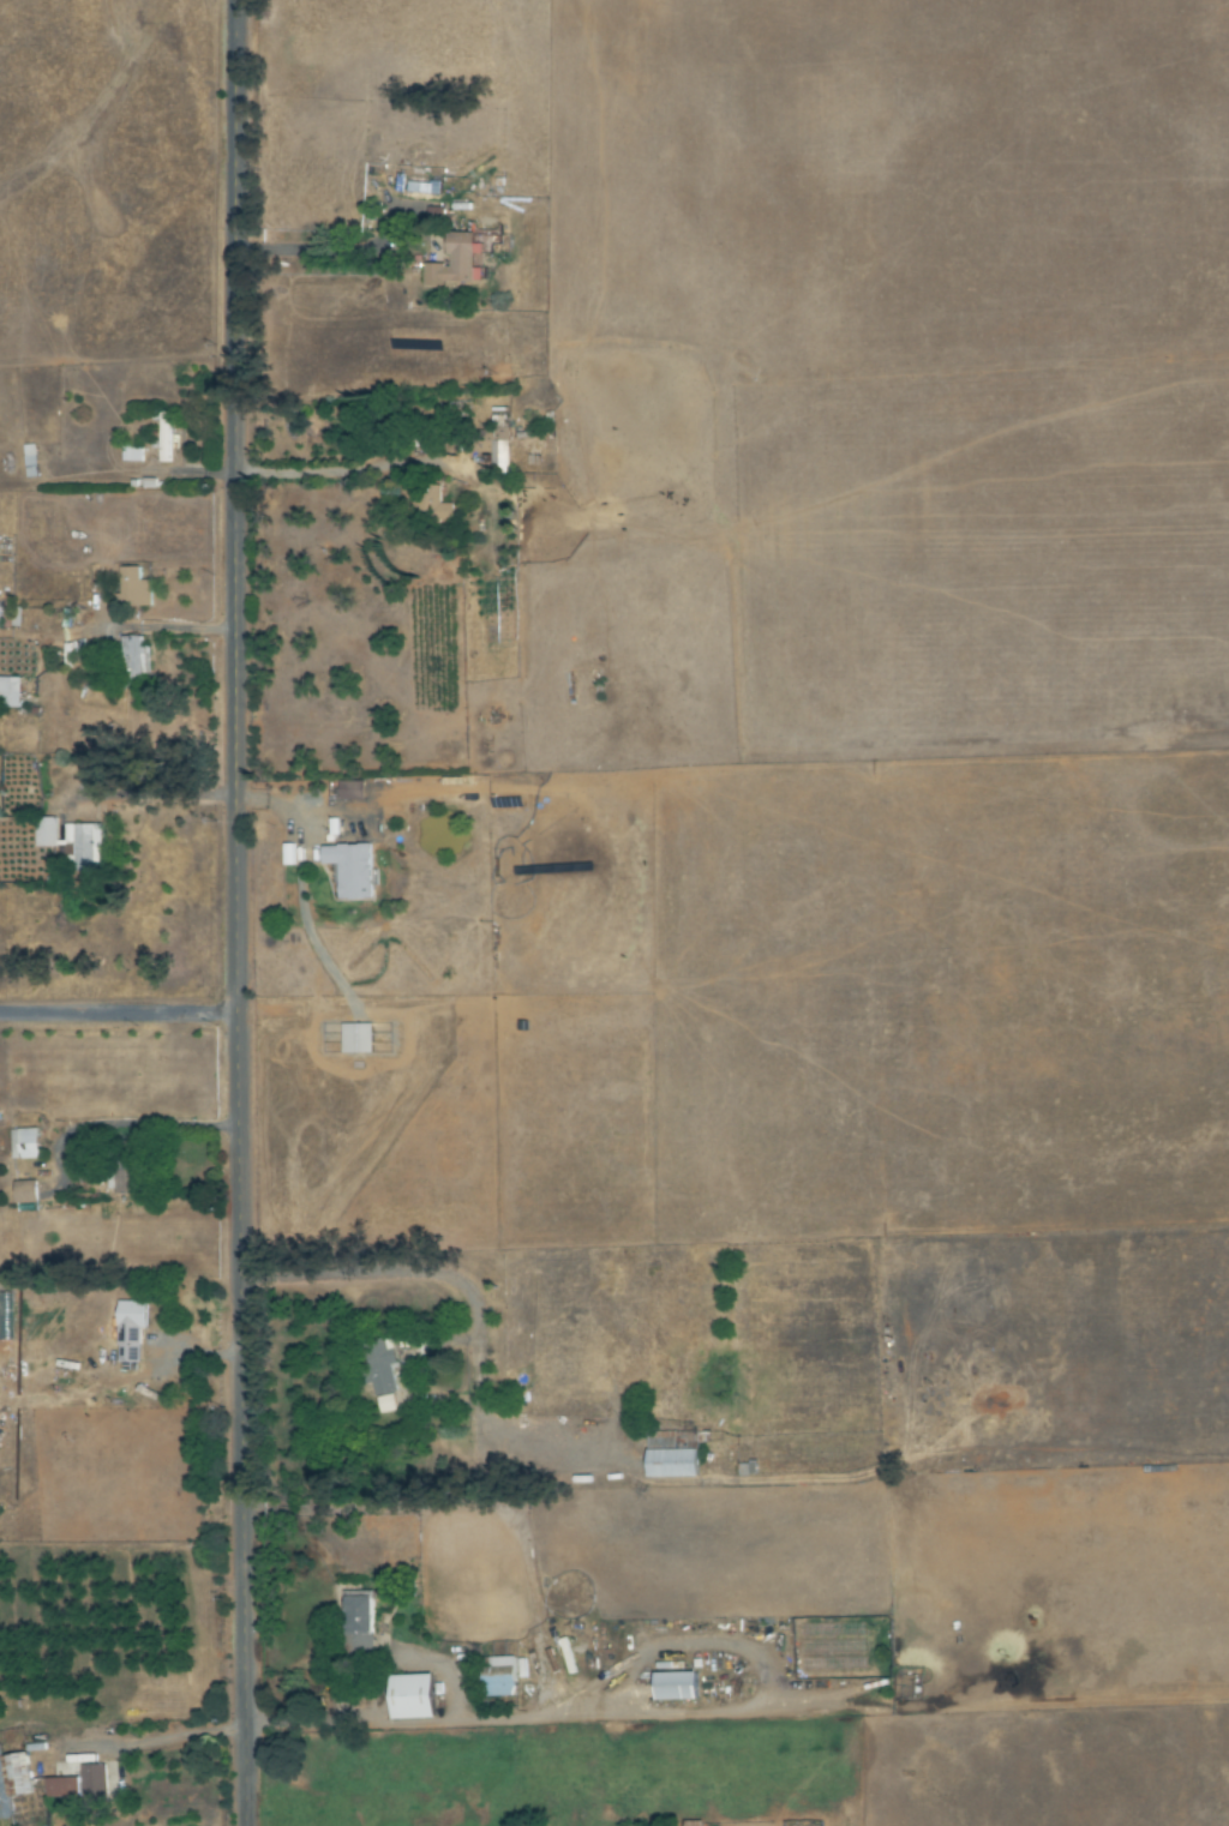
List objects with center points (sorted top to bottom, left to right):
building: (425, 187)
building: (456, 262)
building: (164, 437)
building: (499, 456)
building: (133, 587)
building: (136, 655)
building: (10, 691)
building: (352, 789)
building: (47, 831)
building: (83, 846)
building: (352, 870)
road: (235, 913)
road: (118, 1013)
building: (24, 1145)
building: (122, 1167)
building: (25, 1193)
building: (6, 1296)
building: (130, 1331)
building: (382, 1370)
building: (673, 1455)
building: (747, 1470)
building: (361, 1624)
building: (500, 1677)
building: (676, 1687)
building: (413, 1698)
building: (13, 1780)
building: (79, 1785)
building: (694, 1824)

